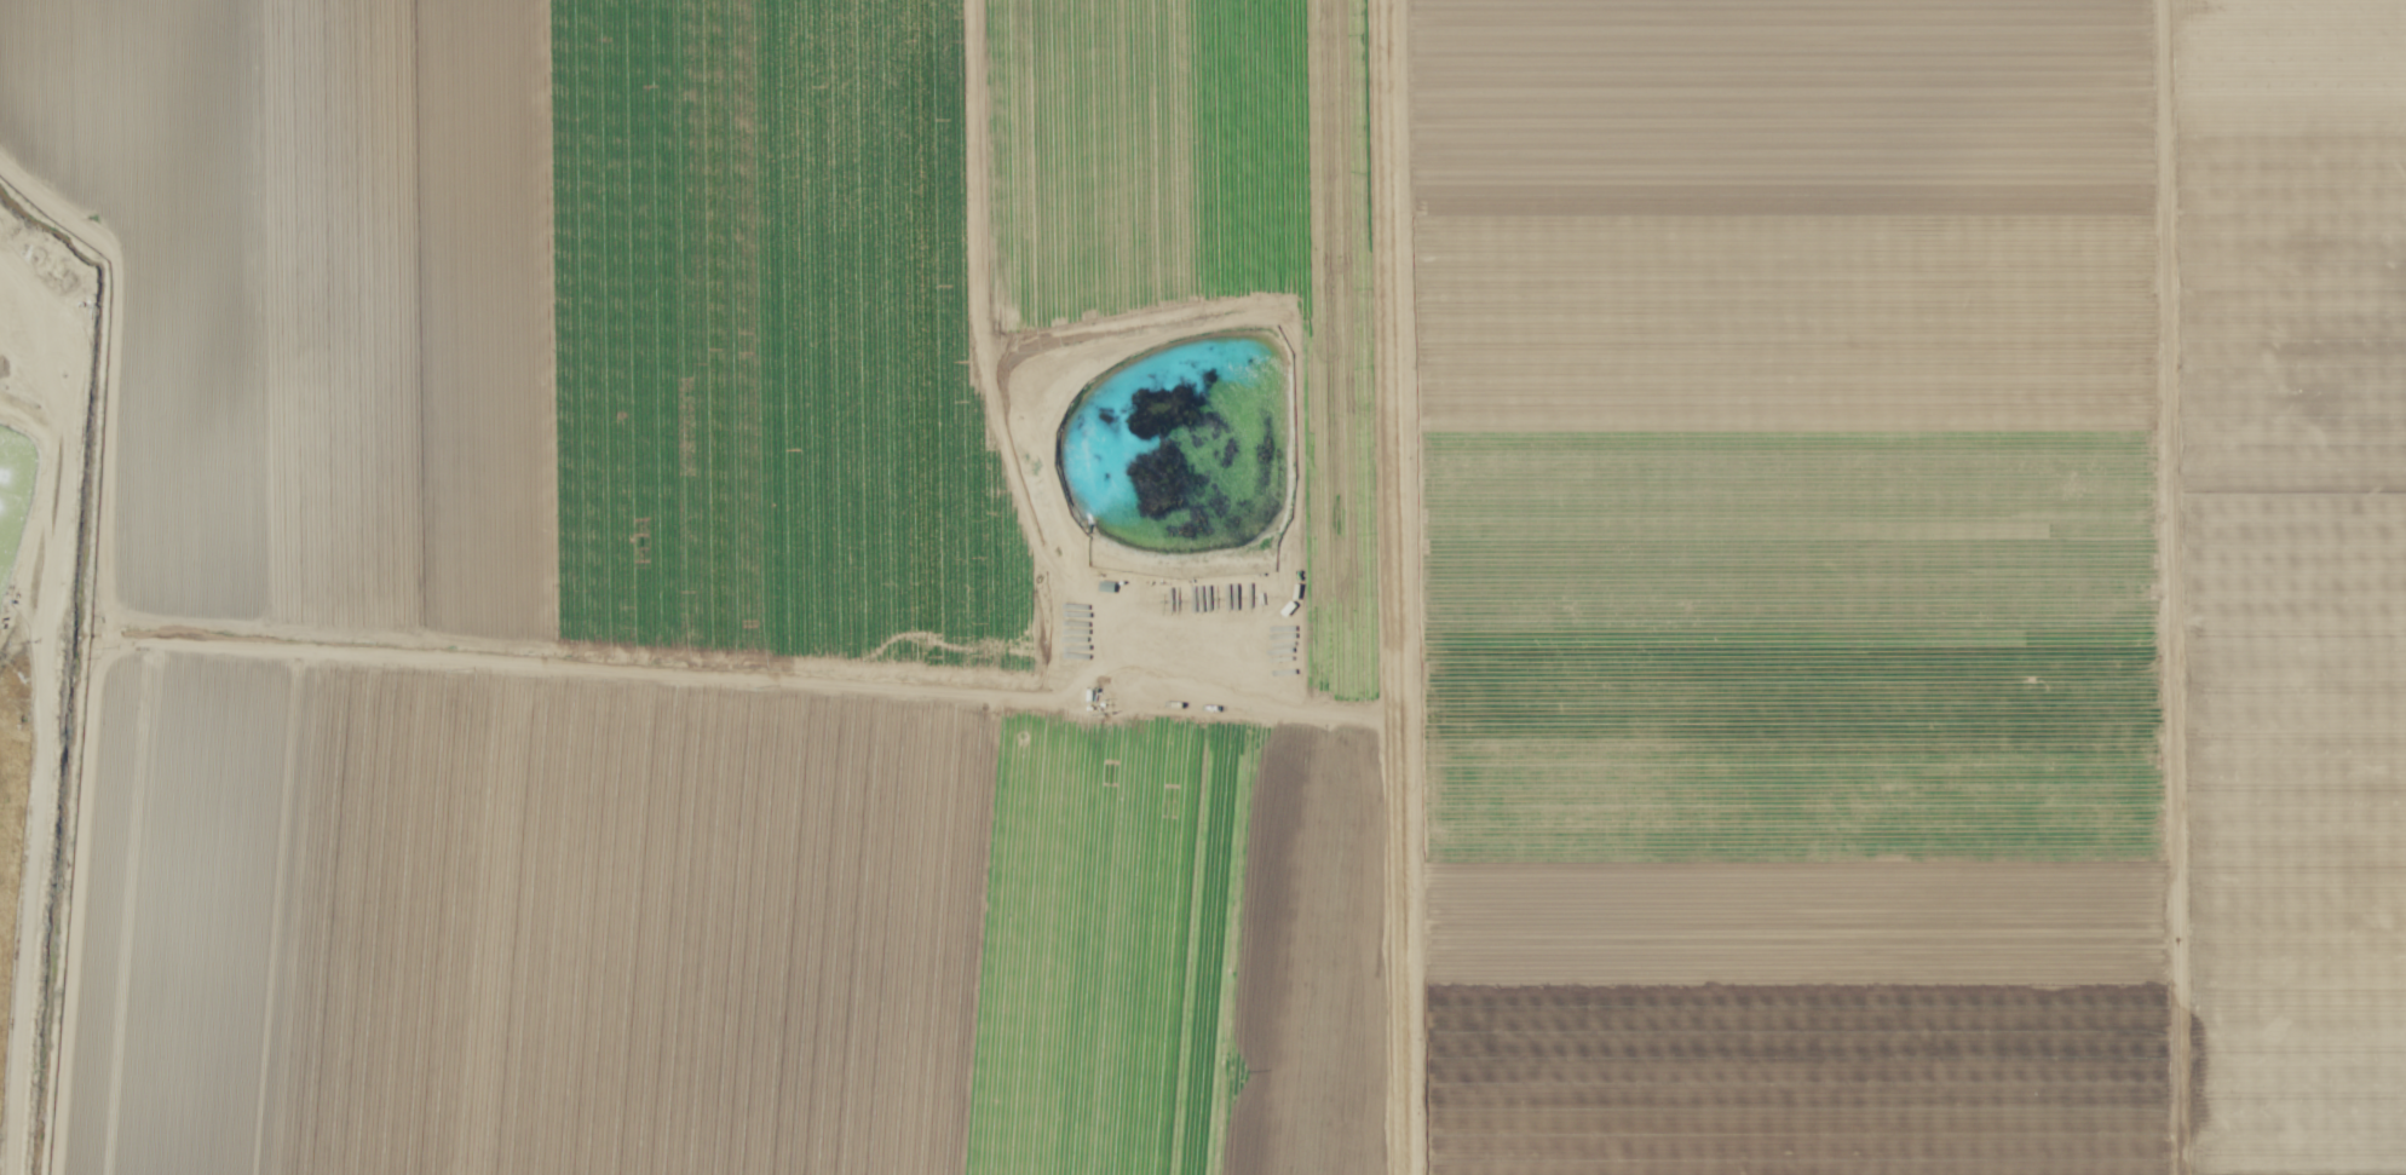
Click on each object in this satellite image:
wastewater plant: (1175, 468)
road: (1042, 484)
crop: (1203, 587)
road: (1393, 587)

